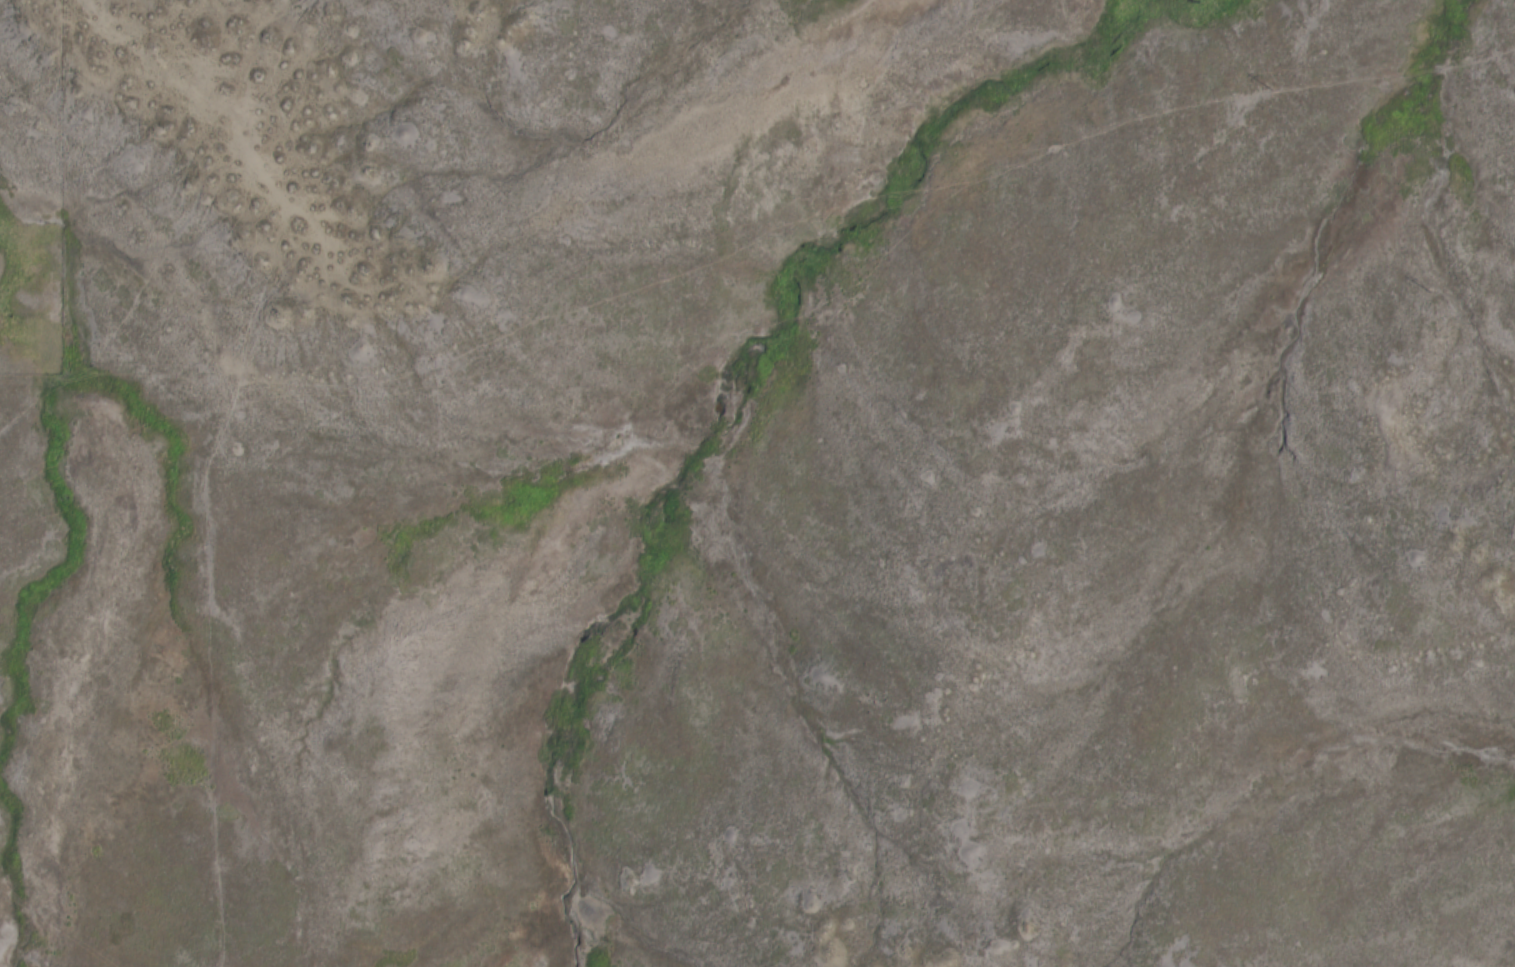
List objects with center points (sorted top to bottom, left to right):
power tower: (1277, 92)
power tower: (1437, 293)

